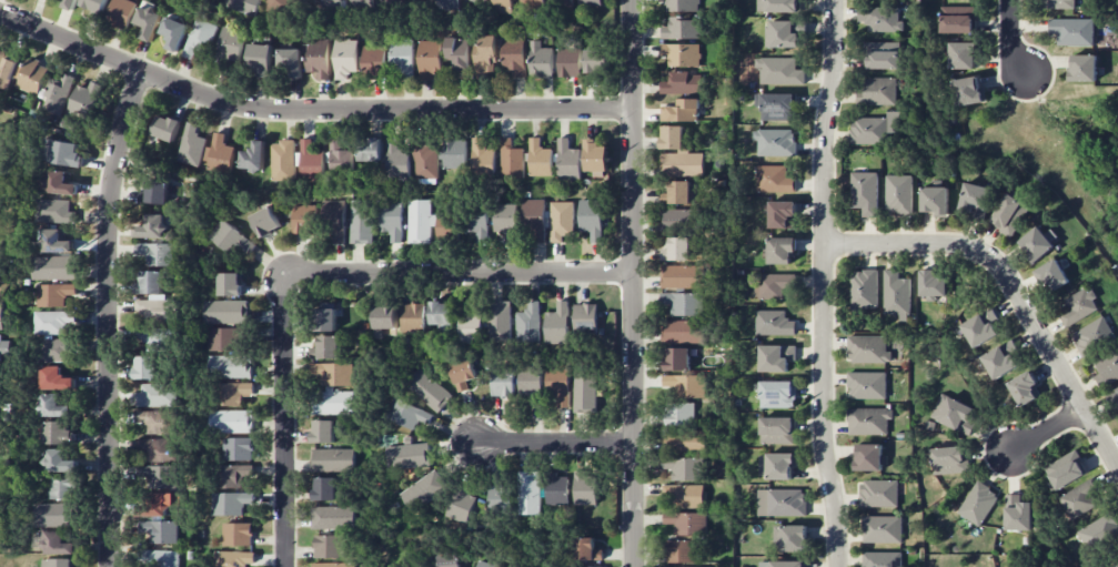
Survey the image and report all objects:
building: (303, 0)
building: (275, 1)
building: (68, 2)
building: (533, 2)
building: (591, 2)
building: (332, 3)
building: (361, 3)
building: (1059, 3)
building: (446, 4)
building: (243, 6)
building: (502, 6)
building: (683, 6)
building: (778, 6)
building: (94, 8)
building: (120, 13)
building: (880, 19)
building: (957, 19)
building: (148, 20)
building: (682, 28)
building: (173, 31)
building: (1072, 31)
building: (782, 34)
road: (1010, 37)
building: (199, 38)
building: (231, 43)
building: (457, 52)
building: (682, 53)
building: (883, 55)
building: (963, 55)
building: (402, 57)
building: (514, 57)
building: (318, 58)
building: (344, 58)
building: (429, 58)
building: (485, 58)
building: (260, 59)
building: (374, 59)
building: (541, 60)
building: (596, 60)
building: (290, 62)
building: (570, 63)
building: (1084, 68)
building: (7, 69)
building: (779, 71)
building: (33, 74)
building: (682, 83)
building: (968, 90)
building: (876, 91)
building: (57, 93)
building: (85, 100)
building: (776, 105)
road: (308, 109)
building: (681, 111)
building: (165, 128)
building: (874, 129)
building: (672, 136)
building: (775, 142)
building: (191, 145)
building: (369, 150)
building: (67, 153)
building: (454, 153)
building: (219, 154)
building: (253, 156)
building: (339, 156)
building: (595, 156)
building: (511, 159)
building: (540, 159)
building: (396, 160)
building: (282, 161)
building: (309, 161)
building: (424, 161)
building: (568, 161)
building: (682, 163)
building: (774, 179)
building: (60, 183)
building: (153, 192)
building: (864, 192)
building: (679, 193)
building: (898, 194)
building: (975, 199)
building: (935, 200)
building: (54, 211)
building: (782, 214)
building: (1009, 214)
building: (304, 219)
building: (391, 219)
building: (591, 219)
building: (533, 220)
building: (561, 220)
building: (678, 220)
building: (265, 221)
building: (334, 221)
building: (361, 221)
building: (504, 221)
building: (426, 222)
building: (477, 224)
building: (230, 239)
building: (54, 241)
building: (1035, 244)
building: (677, 250)
building: (782, 250)
building: (160, 254)
building: (54, 267)
road: (459, 274)
building: (682, 276)
building: (1051, 276)
road: (634, 283)
road: (824, 283)
building: (931, 283)
building: (230, 284)
building: (773, 285)
road: (1013, 285)
building: (863, 288)
building: (54, 294)
building: (896, 295)
building: (154, 298)
building: (684, 303)
building: (1079, 306)
building: (226, 312)
building: (442, 313)
building: (1, 315)
road: (108, 316)
building: (413, 317)
building: (585, 317)
building: (384, 318)
building: (326, 320)
building: (501, 320)
building: (53, 322)
building: (528, 323)
building: (774, 323)
building: (557, 324)
building: (470, 325)
building: (980, 327)
building: (684, 331)
building: (1092, 336)
building: (157, 337)
building: (224, 338)
building: (328, 347)
building: (57, 348)
building: (4, 350)
building: (868, 350)
building: (776, 357)
building: (677, 358)
building: (1000, 360)
building: (230, 366)
building: (147, 367)
building: (1107, 368)
building: (331, 373)
building: (463, 374)
building: (56, 378)
building: (0, 381)
building: (503, 384)
building: (560, 384)
building: (686, 384)
building: (867, 384)
building: (531, 387)
building: (1025, 388)
building: (585, 389)
building: (430, 391)
building: (1116, 392)
building: (233, 393)
building: (777, 394)
building: (157, 395)
building: (333, 402)
building: (53, 406)
building: (954, 413)
building: (407, 414)
building: (679, 414)
building: (155, 421)
building: (231, 421)
road: (284, 421)
building: (868, 421)
building: (777, 429)
building: (323, 431)
building: (58, 432)
road: (1049, 432)
building: (684, 442)
road: (555, 443)
building: (236, 448)
building: (154, 449)
building: (407, 455)
building: (868, 457)
building: (333, 459)
building: (59, 460)
building: (948, 460)
building: (776, 465)
building: (684, 467)
building: (1064, 470)
building: (232, 475)
building: (159, 476)
building: (61, 487)
building: (585, 487)
building: (324, 488)
building: (556, 489)
building: (424, 490)
building: (528, 493)
building: (879, 493)
building: (684, 495)
building: (498, 497)
building: (1080, 499)
building: (780, 502)
building: (229, 503)
building: (978, 503)
building: (159, 504)
building: (461, 505)
building: (1018, 514)
building: (53, 515)
building: (333, 517)
building: (686, 523)
building: (880, 529)
building: (159, 530)
building: (1099, 531)
building: (236, 534)
building: (790, 538)
building: (57, 543)
building: (329, 546)
building: (587, 549)
building: (679, 550)
building: (160, 558)
building: (234, 558)
building: (447, 559)
building: (882, 559)
building: (58, 563)
building: (485, 564)
building: (783, 564)
building: (1115, 564)
building: (334, 565)
building: (401, 566)
building: (580, 566)
building: (697, 566)

